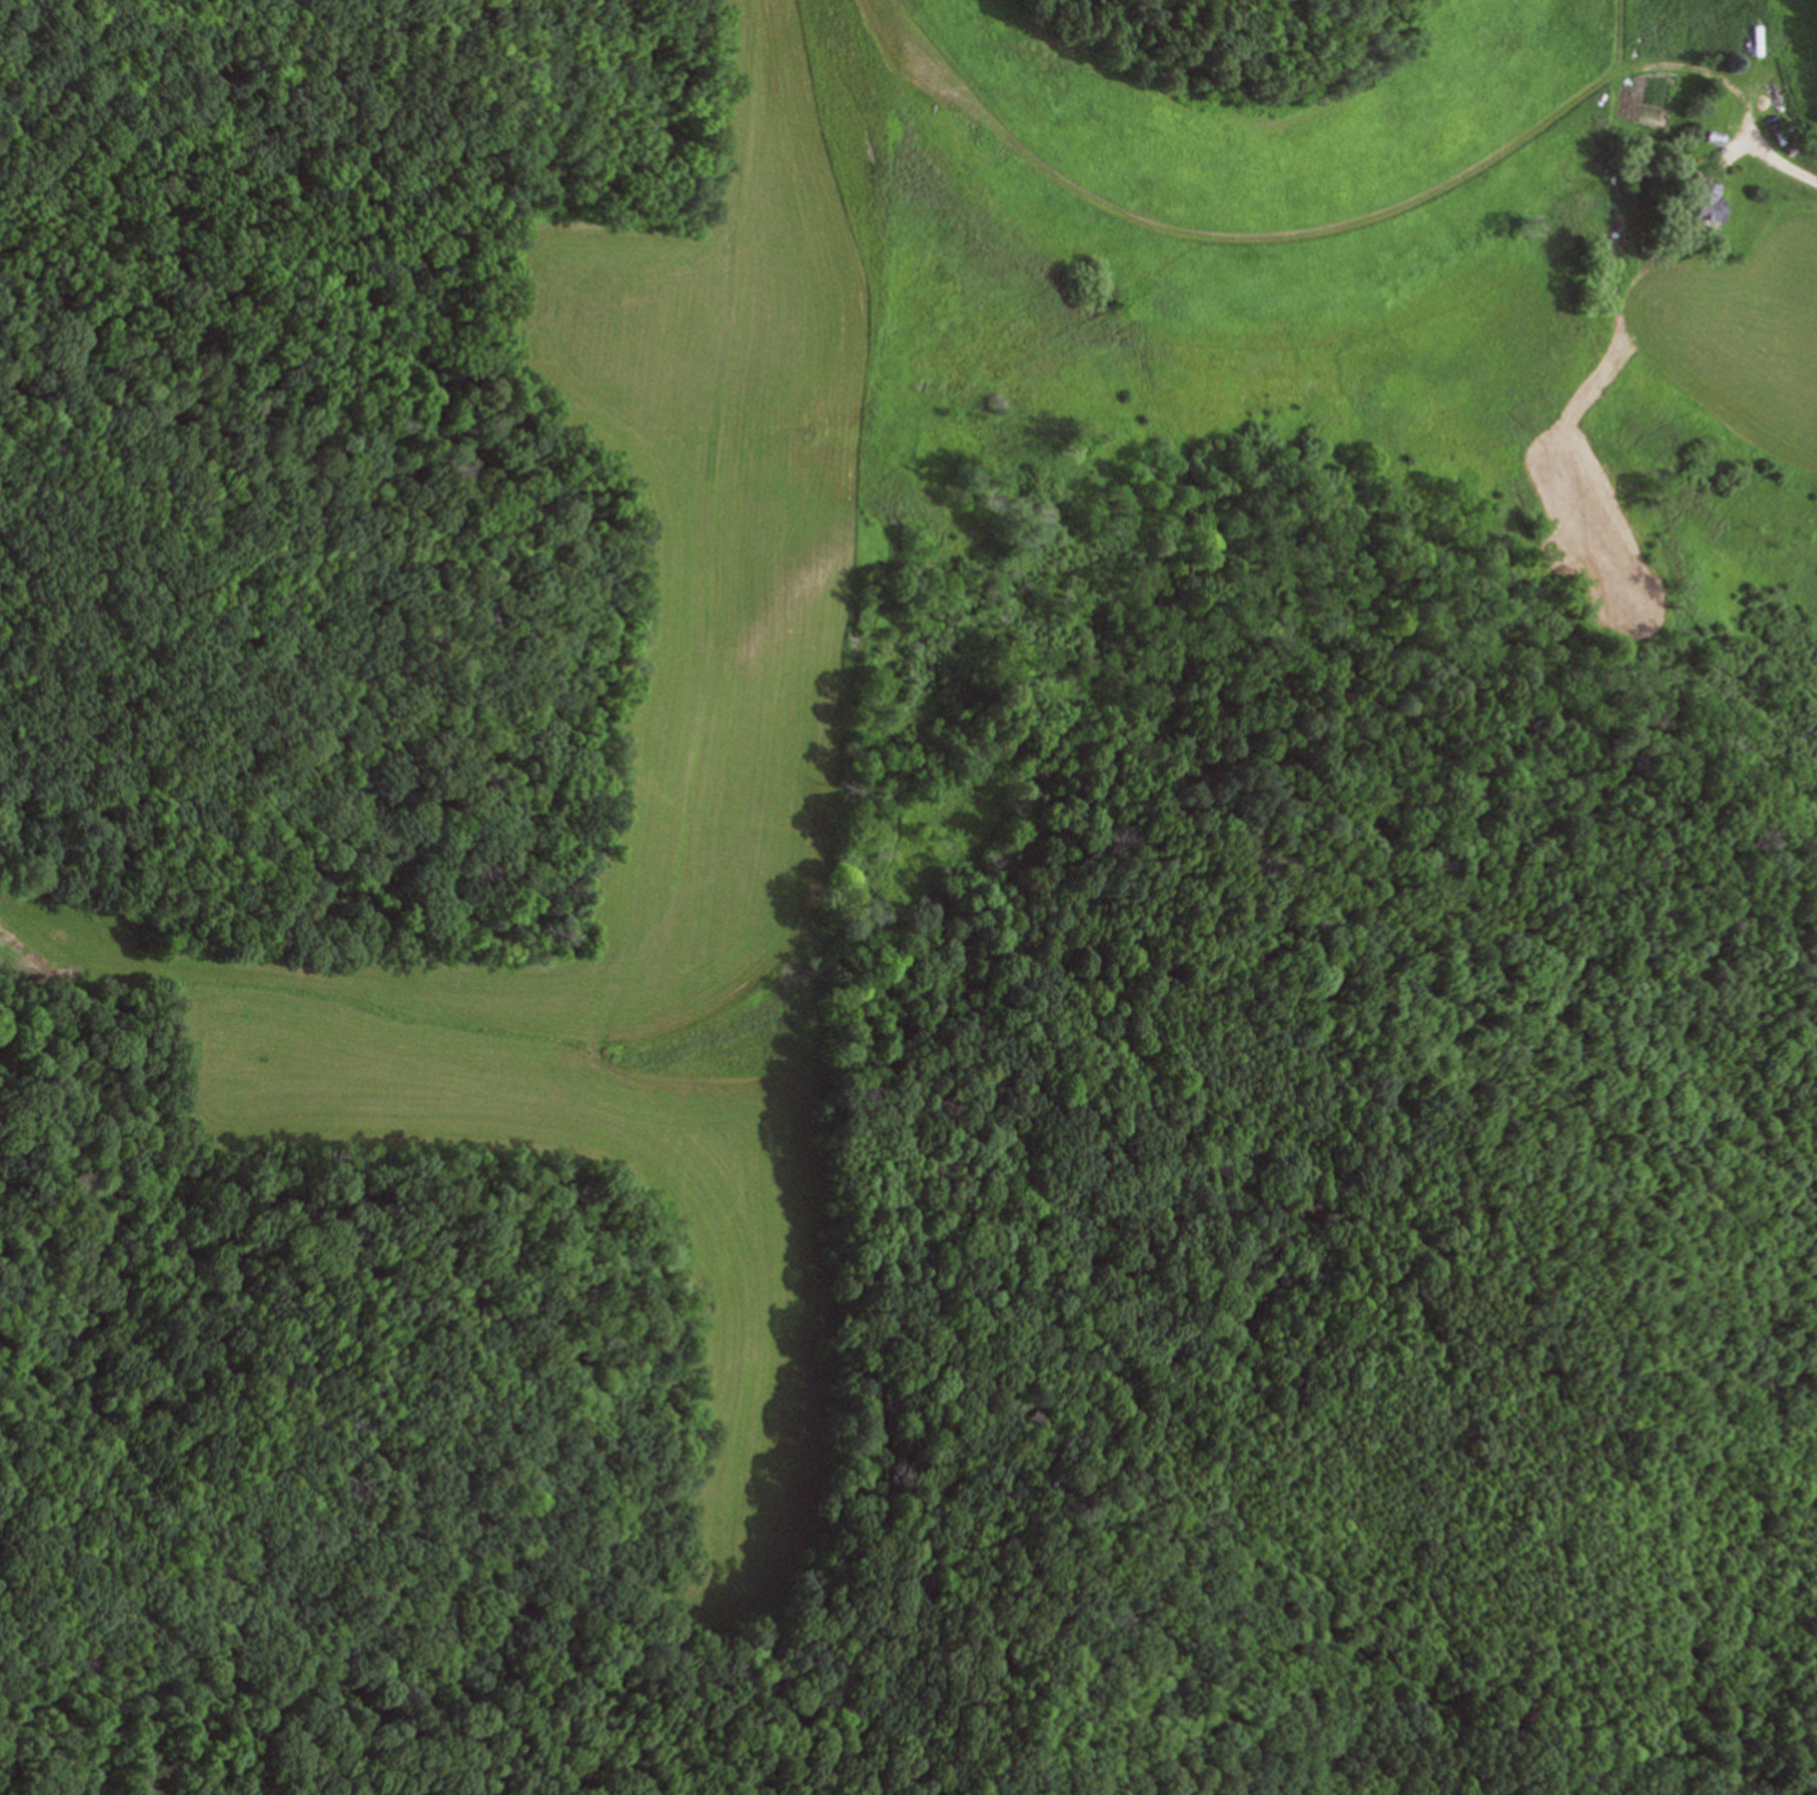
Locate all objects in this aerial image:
road: (1768, 148)
building: (1699, 201)
crop: (1751, 332)
crop: (815, 663)

